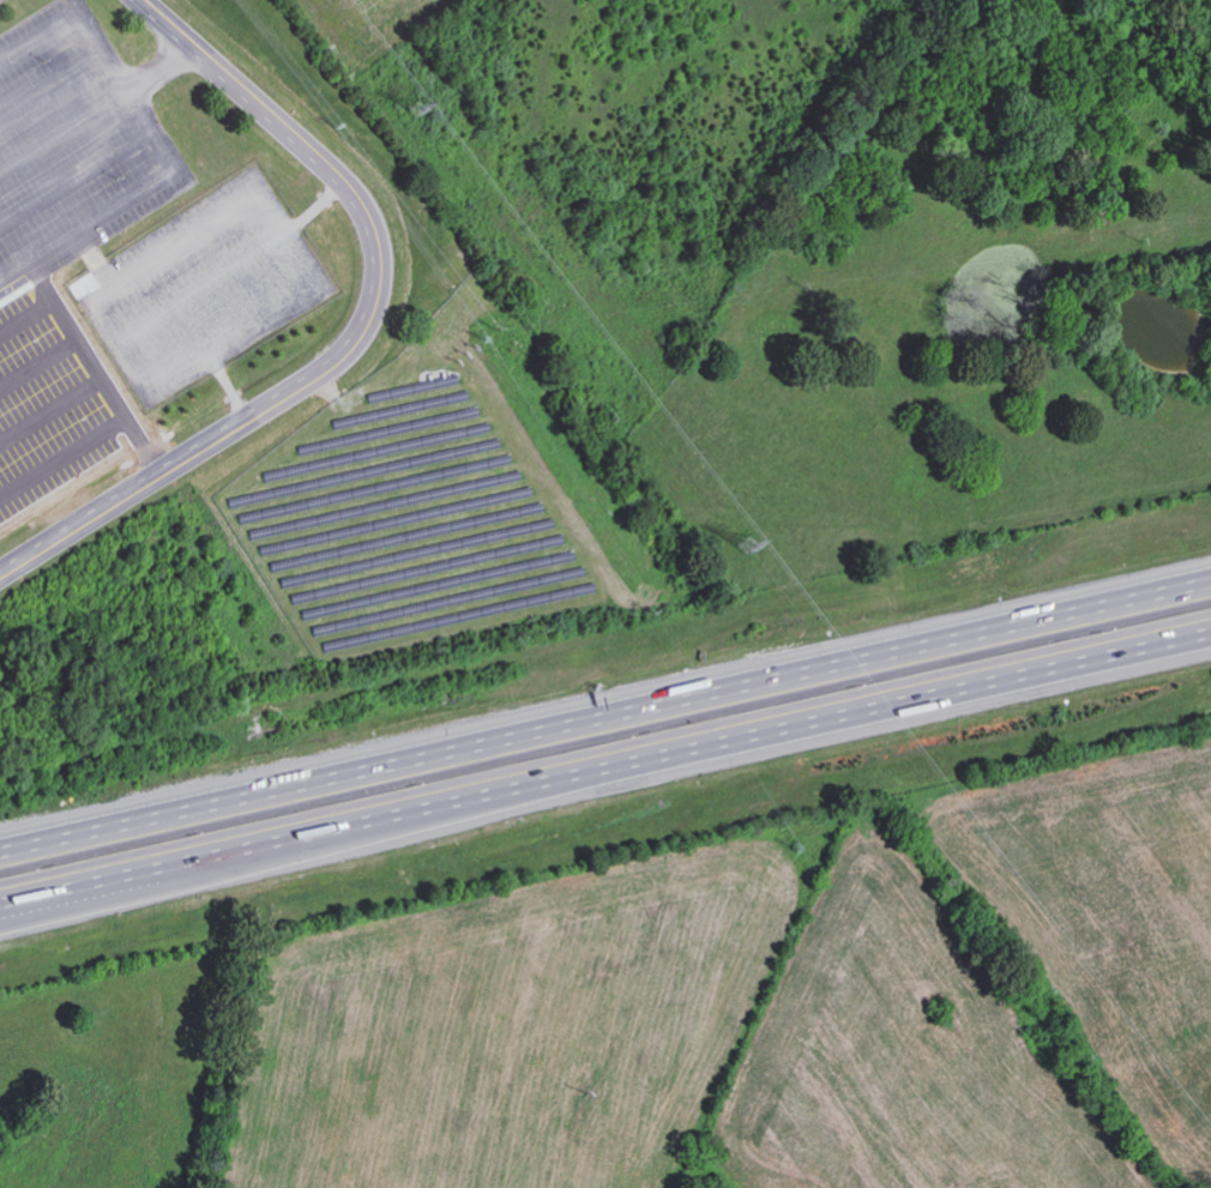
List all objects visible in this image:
road: (52, 86)
road: (97, 104)
road: (157, 139)
road: (74, 173)
parking lot: (134, 212)
road: (173, 248)
road: (65, 260)
road: (363, 334)
road: (120, 356)
road: (604, 705)
road: (605, 780)

